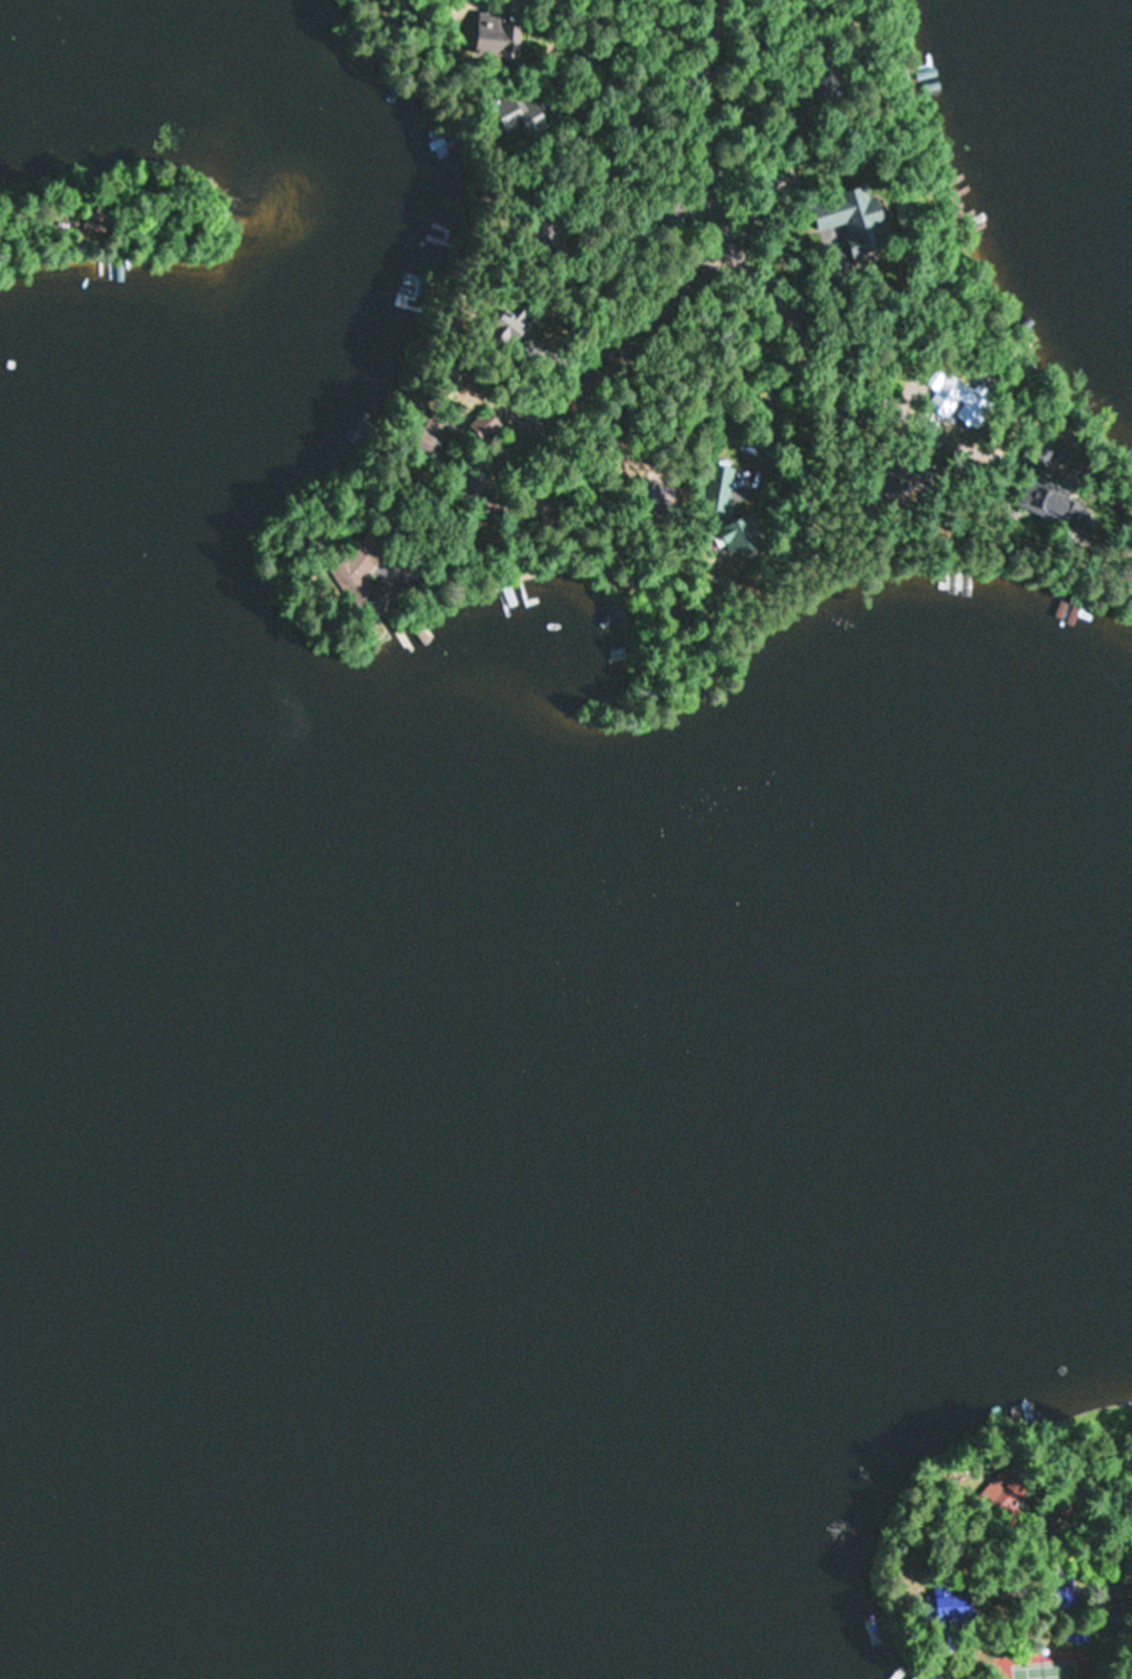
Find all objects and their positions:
building: (497, 37)
river: (245, 109)
road: (701, 114)
building: (511, 119)
building: (857, 220)
road: (610, 333)
road: (825, 350)
building: (486, 425)
building: (434, 441)
river: (119, 461)
building: (720, 488)
building: (1057, 506)
building: (746, 536)
building: (363, 573)
river: (656, 1276)
river: (42, 1290)
river: (49, 1364)
building: (1009, 1485)
building: (1069, 1587)
building: (953, 1592)
building: (931, 1672)

